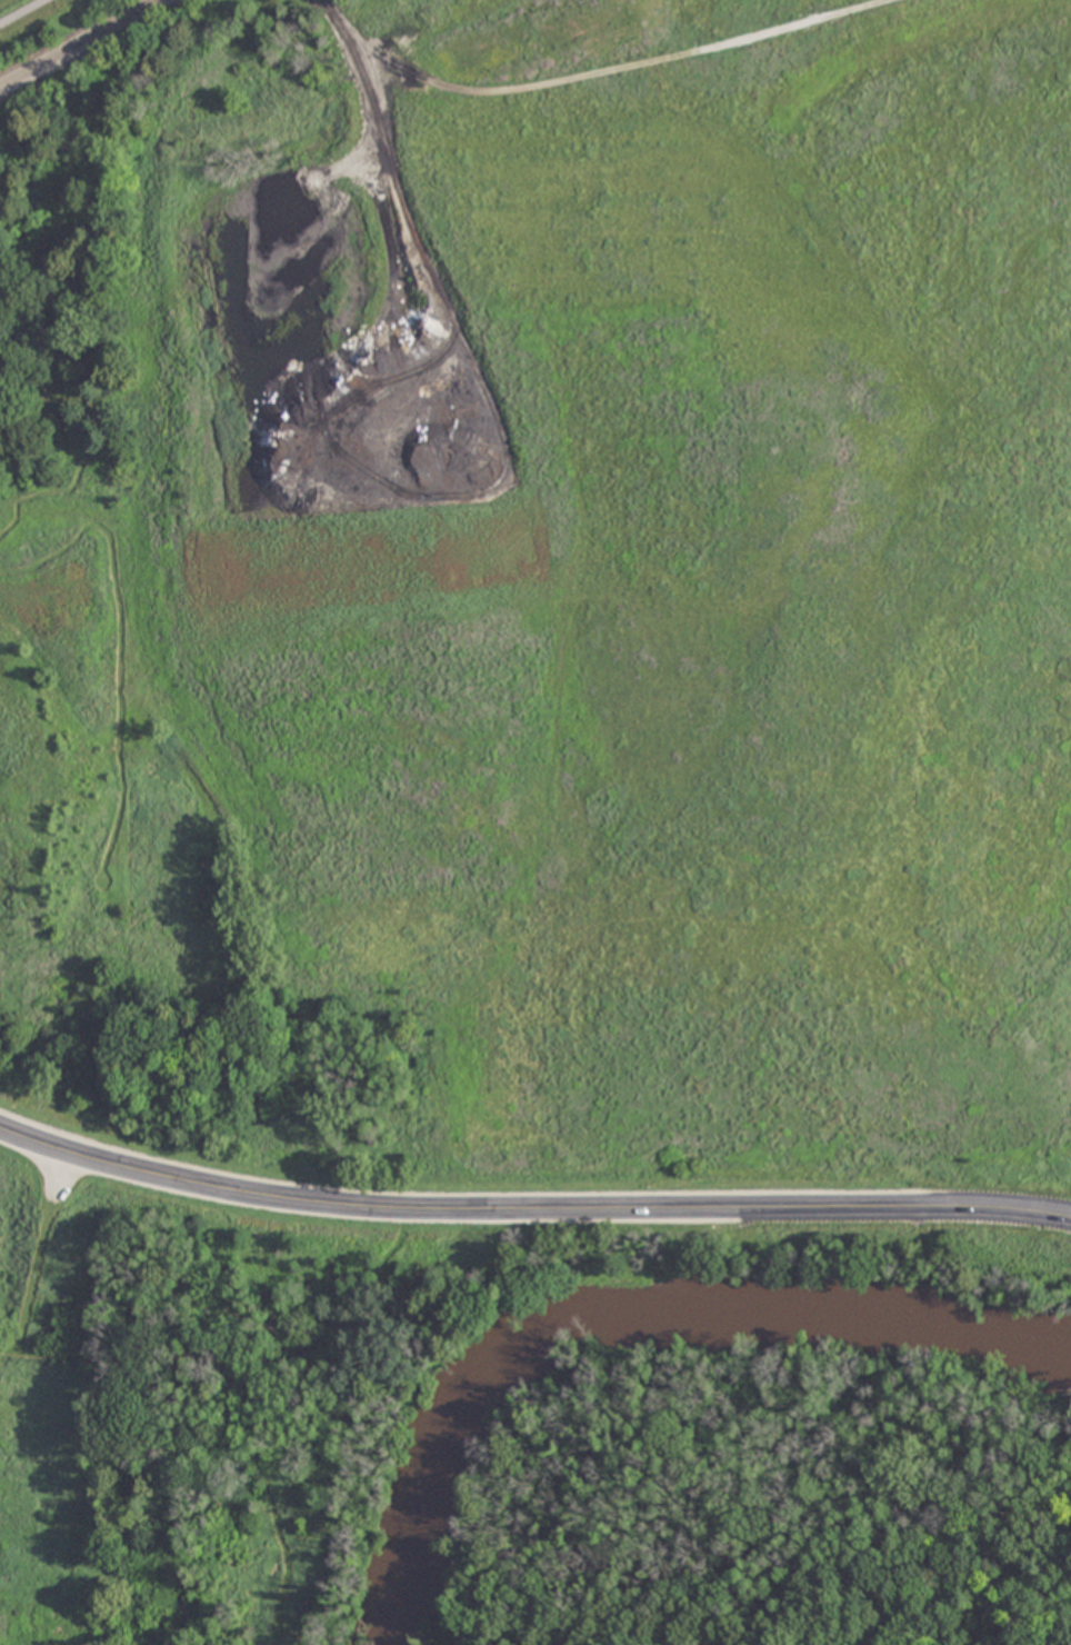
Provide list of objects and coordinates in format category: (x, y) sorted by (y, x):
road: (19, 10)
road: (81, 44)
road: (598, 72)
road: (530, 1208)
river: (633, 1329)
park: (524, 1423)

